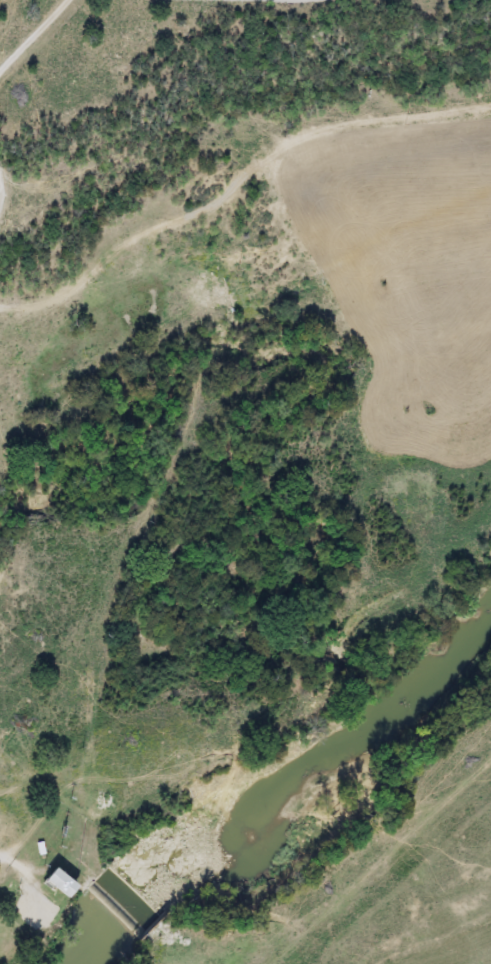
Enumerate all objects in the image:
road: (34, 38)
road: (13, 861)
building: (63, 885)

